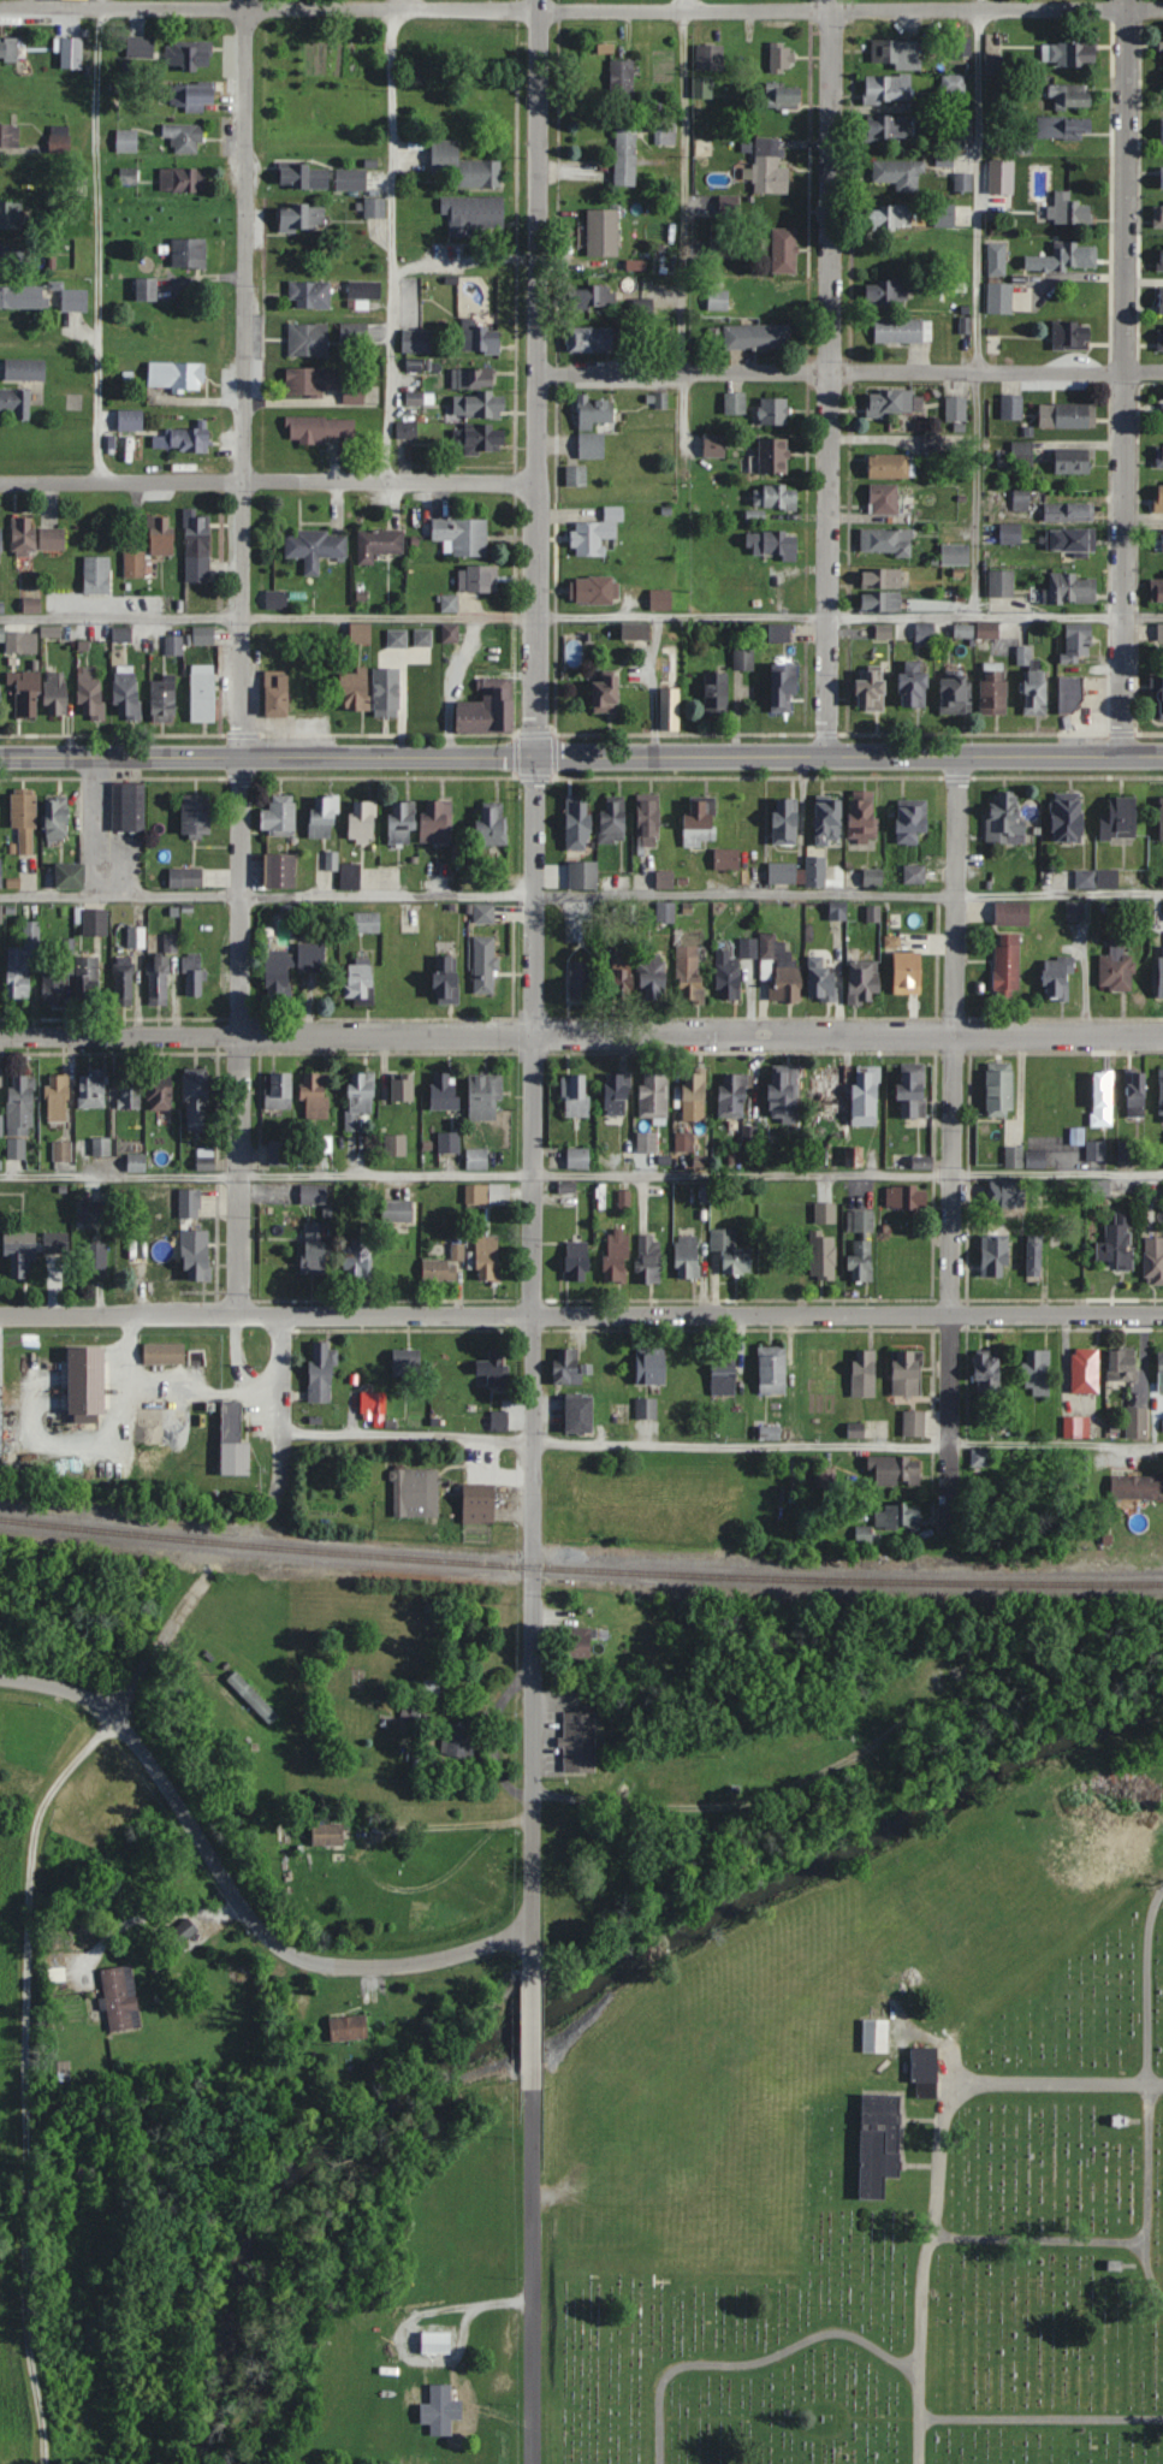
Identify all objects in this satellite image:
road: (581, 8)
building: (141, 47)
building: (8, 49)
building: (71, 54)
building: (896, 54)
building: (1069, 54)
building: (188, 55)
building: (1162, 57)
building: (710, 58)
building: (782, 58)
building: (993, 65)
building: (622, 79)
building: (954, 83)
building: (701, 87)
building: (888, 89)
building: (192, 96)
building: (783, 96)
building: (1070, 97)
building: (886, 128)
building: (1062, 130)
building: (1161, 132)
building: (8, 136)
building: (185, 137)
building: (59, 140)
building: (1023, 141)
building: (127, 142)
building: (625, 154)
building: (463, 167)
building: (769, 167)
building: (959, 167)
building: (898, 174)
building: (127, 177)
building: (304, 177)
building: (1162, 178)
building: (351, 179)
building: (182, 180)
road: (681, 185)
building: (375, 208)
building: (730, 209)
building: (1069, 212)
building: (473, 214)
building: (1158, 214)
building: (10, 215)
building: (963, 215)
building: (302, 217)
building: (890, 217)
road: (99, 241)
road: (387, 241)
building: (720, 248)
building: (784, 250)
building: (189, 254)
building: (13, 256)
building: (1159, 256)
building: (1066, 257)
building: (996, 260)
building: (669, 262)
road: (462, 263)
building: (147, 290)
building: (363, 291)
building: (886, 291)
building: (309, 294)
building: (22, 297)
building: (592, 297)
building: (999, 298)
building: (718, 300)
building: (1161, 300)
building: (75, 301)
building: (776, 306)
road: (975, 306)
building: (903, 330)
building: (354, 332)
building: (479, 336)
building: (756, 337)
building: (1069, 337)
building: (1159, 337)
building: (308, 339)
building: (591, 339)
building: (416, 340)
building: (25, 369)
road: (850, 371)
building: (176, 375)
road: (831, 377)
road: (245, 378)
road: (539, 378)
road: (1127, 378)
building: (473, 379)
building: (313, 380)
building: (354, 396)
building: (890, 401)
building: (16, 402)
building: (735, 403)
building: (479, 405)
building: (1011, 407)
building: (956, 409)
building: (773, 411)
building: (1067, 415)
building: (130, 420)
building: (594, 425)
building: (319, 428)
building: (479, 438)
building: (188, 439)
building: (714, 445)
building: (1022, 454)
building: (1159, 455)
building: (773, 457)
building: (1073, 461)
building: (890, 466)
building: (576, 476)
road: (269, 481)
building: (1158, 497)
building: (776, 498)
building: (1021, 499)
building: (888, 500)
building: (1068, 513)
building: (1010, 533)
building: (0, 534)
building: (597, 534)
building: (161, 535)
building: (462, 537)
building: (36, 538)
building: (1070, 540)
building: (885, 541)
building: (378, 544)
building: (771, 545)
building: (197, 547)
building: (315, 547)
building: (955, 555)
building: (135, 564)
building: (96, 575)
building: (479, 580)
building: (882, 580)
building: (1001, 585)
building: (1072, 588)
building: (592, 591)
building: (1157, 592)
building: (275, 599)
building: (661, 600)
building: (880, 602)
building: (32, 606)
road: (581, 611)
building: (989, 630)
building: (51, 632)
building: (635, 632)
building: (925, 632)
building: (779, 633)
building: (1159, 633)
building: (360, 634)
building: (202, 636)
building: (1078, 642)
building: (174, 646)
building: (1023, 656)
road: (649, 682)
building: (783, 685)
building: (914, 685)
building: (670, 688)
building: (872, 689)
building: (355, 691)
building: (993, 692)
building: (26, 693)
building: (57, 693)
building: (90, 693)
building: (126, 693)
building: (202, 693)
building: (387, 693)
building: (1034, 693)
building: (277, 694)
building: (716, 694)
building: (955, 694)
building: (1070, 694)
building: (605, 695)
building: (1159, 697)
building: (164, 699)
building: (486, 713)
traffic signals: (535, 756)
road: (581, 756)
building: (127, 806)
building: (279, 813)
building: (196, 815)
building: (1002, 815)
building: (324, 816)
building: (1068, 816)
building: (1120, 817)
building: (1161, 817)
building: (57, 818)
building: (613, 818)
building: (24, 819)
building: (700, 819)
building: (827, 819)
building: (862, 819)
building: (362, 821)
building: (402, 821)
building: (435, 821)
building: (648, 821)
building: (785, 821)
building: (910, 821)
building: (578, 822)
building: (492, 824)
road: (99, 827)
building: (726, 859)
building: (279, 870)
building: (0, 871)
building: (782, 872)
building: (582, 873)
building: (70, 875)
building: (350, 876)
building: (185, 877)
building: (1096, 878)
road: (581, 895)
building: (1074, 910)
building: (1, 912)
building: (483, 913)
building: (1013, 913)
building: (95, 922)
building: (367, 922)
building: (410, 923)
building: (136, 937)
building: (767, 946)
building: (310, 956)
building: (23, 961)
building: (485, 961)
road: (1087, 964)
building: (1007, 965)
building: (1116, 966)
building: (1161, 966)
building: (908, 972)
building: (689, 973)
building: (194, 975)
building: (277, 975)
building: (398, 976)
building: (87, 977)
building: (653, 977)
building: (728, 977)
building: (1057, 978)
building: (158, 979)
building: (446, 979)
building: (580, 979)
building: (124, 981)
building: (361, 981)
building: (622, 981)
building: (864, 981)
building: (821, 982)
building: (787, 983)
building: (53, 987)
road: (242, 1033)
road: (581, 1035)
building: (402, 1086)
building: (831, 1088)
building: (1001, 1088)
building: (91, 1089)
building: (912, 1089)
building: (278, 1090)
building: (444, 1090)
building: (783, 1091)
building: (617, 1092)
building: (694, 1094)
building: (1137, 1094)
building: (315, 1095)
building: (575, 1095)
building: (653, 1095)
building: (732, 1095)
building: (866, 1095)
building: (1162, 1095)
building: (160, 1096)
building: (57, 1097)
building: (130, 1097)
building: (360, 1097)
building: (485, 1097)
building: (1103, 1097)
building: (196, 1098)
building: (19, 1116)
road: (953, 1139)
building: (450, 1143)
building: (396, 1144)
building: (101, 1145)
building: (1094, 1149)
building: (61, 1150)
building: (1127, 1150)
building: (279, 1151)
building: (321, 1151)
building: (854, 1156)
building: (206, 1157)
building: (477, 1157)
building: (577, 1157)
building: (136, 1162)
road: (581, 1173)
building: (1100, 1186)
building: (314, 1192)
building: (488, 1192)
building: (1007, 1192)
building: (904, 1197)
building: (190, 1202)
building: (397, 1209)
building: (91, 1210)
building: (825, 1212)
building: (860, 1221)
building: (1117, 1240)
building: (55, 1242)
building: (995, 1250)
building: (138, 1251)
building: (731, 1251)
building: (20, 1252)
building: (196, 1254)
building: (399, 1254)
building: (616, 1255)
building: (823, 1255)
building: (1034, 1255)
building: (314, 1256)
building: (687, 1256)
building: (95, 1257)
building: (488, 1257)
building: (648, 1257)
building: (1153, 1257)
building: (861, 1258)
building: (577, 1260)
building: (908, 1260)
building: (357, 1261)
building: (164, 1266)
building: (439, 1268)
road: (581, 1313)
building: (164, 1352)
road: (530, 1354)
building: (651, 1363)
building: (407, 1364)
building: (1122, 1364)
building: (566, 1366)
building: (493, 1367)
building: (772, 1369)
building: (321, 1370)
building: (1037, 1370)
building: (1085, 1370)
building: (907, 1372)
building: (987, 1372)
building: (864, 1373)
building: (1159, 1373)
building: (723, 1382)
building: (87, 1384)
building: (373, 1404)
road: (284, 1408)
building: (646, 1408)
building: (580, 1414)
building: (499, 1420)
building: (914, 1422)
building: (1137, 1422)
building: (1075, 1427)
building: (855, 1429)
road: (408, 1435)
road: (1054, 1439)
building: (233, 1441)
road: (738, 1443)
building: (981, 1457)
building: (894, 1470)
building: (409, 1492)
building: (477, 1505)
building: (896, 1515)
building: (864, 1534)
railway: (580, 1569)
building: (577, 1641)
building: (251, 1696)
building: (410, 1707)
building: (459, 1739)
building: (580, 1741)
building: (326, 1838)
road: (232, 1891)
building: (180, 1936)
road: (1146, 1984)
road: (26, 1991)
river: (571, 1994)
building: (120, 1998)
road: (532, 2014)
building: (348, 2027)
building: (876, 2036)
building: (925, 2069)
road: (1056, 2081)
building: (879, 2143)
park: (877, 2160)
road: (1112, 2241)
road: (927, 2251)
road: (532, 2269)
road: (1146, 2271)
building: (435, 2342)
road: (752, 2363)
building: (440, 2410)
road: (1040, 2419)

